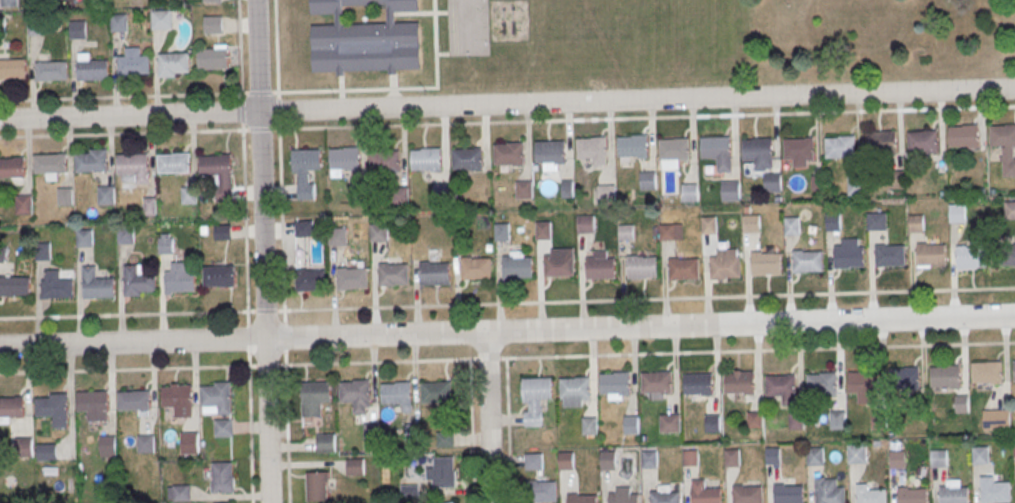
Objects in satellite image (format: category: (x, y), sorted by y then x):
building: (208, 0)
building: (7, 3)
building: (50, 3)
building: (161, 21)
building: (117, 24)
building: (212, 24)
building: (1, 28)
building: (35, 28)
building: (76, 29)
park: (864, 37)
building: (365, 39)
building: (212, 57)
building: (131, 62)
building: (171, 63)
building: (11, 68)
building: (91, 69)
building: (50, 70)
road: (184, 94)
road: (507, 104)
road: (507, 120)
building: (964, 138)
building: (1002, 138)
building: (923, 143)
building: (882, 144)
building: (632, 146)
building: (839, 147)
building: (591, 148)
building: (674, 148)
building: (798, 150)
building: (550, 151)
building: (717, 151)
building: (759, 152)
building: (509, 153)
building: (467, 158)
building: (345, 160)
building: (426, 161)
building: (385, 162)
building: (91, 163)
building: (49, 165)
building: (174, 165)
building: (132, 166)
building: (216, 167)
building: (11, 169)
road: (259, 169)
building: (304, 170)
building: (648, 180)
building: (772, 182)
building: (567, 188)
building: (523, 189)
building: (730, 189)
building: (441, 192)
building: (689, 192)
building: (606, 193)
building: (105, 197)
building: (189, 197)
building: (64, 199)
building: (23, 207)
building: (1010, 209)
building: (956, 212)
road: (243, 219)
building: (875, 220)
building: (832, 221)
building: (584, 223)
building: (750, 223)
building: (915, 223)
building: (707, 224)
building: (790, 225)
building: (303, 228)
building: (542, 230)
building: (501, 231)
building: (625, 231)
building: (670, 231)
building: (378, 232)
building: (222, 233)
building: (124, 236)
building: (337, 236)
building: (82, 238)
building: (166, 245)
building: (848, 254)
building: (889, 254)
building: (930, 254)
building: (1004, 254)
building: (970, 256)
building: (806, 260)
building: (558, 262)
building: (764, 263)
building: (724, 264)
building: (599, 265)
building: (517, 266)
building: (640, 266)
building: (475, 267)
building: (682, 268)
building: (433, 273)
building: (392, 274)
building: (351, 277)
building: (219, 278)
building: (312, 279)
building: (179, 280)
building: (137, 283)
building: (96, 287)
building: (14, 288)
building: (55, 288)
road: (141, 313)
road: (507, 332)
road: (284, 336)
road: (142, 368)
building: (1013, 368)
building: (986, 371)
building: (945, 375)
building: (902, 376)
building: (739, 381)
building: (656, 382)
building: (820, 382)
building: (614, 384)
building: (696, 384)
building: (864, 385)
building: (780, 389)
building: (574, 390)
building: (437, 395)
building: (398, 396)
building: (357, 397)
building: (535, 397)
building: (179, 399)
building: (218, 399)
building: (315, 400)
building: (135, 402)
building: (962, 403)
building: (96, 407)
building: (12, 409)
building: (56, 411)
road: (487, 417)
building: (754, 419)
building: (795, 419)
building: (837, 419)
building: (879, 419)
road: (266, 421)
building: (669, 422)
building: (712, 422)
building: (997, 423)
building: (631, 424)
building: (588, 425)
building: (225, 430)
road: (472, 430)
road: (507, 430)
road: (287, 433)
building: (371, 433)
building: (412, 433)
road: (250, 434)
building: (445, 440)
building: (326, 444)
building: (191, 445)
building: (147, 446)
building: (1013, 447)
building: (109, 448)
building: (26, 449)
building: (48, 453)
building: (856, 453)
building: (979, 454)
building: (772, 455)
building: (814, 456)
building: (689, 457)
building: (731, 457)
building: (938, 457)
building: (648, 458)
building: (897, 459)
building: (565, 460)
building: (607, 460)
building: (355, 468)
building: (442, 475)
building: (225, 480)
building: (318, 488)
building: (828, 490)
building: (994, 490)
building: (545, 491)
building: (704, 492)
building: (747, 493)
building: (788, 493)
building: (870, 494)
building: (954, 494)
building: (183, 495)
building: (912, 495)
building: (622, 496)
building: (663, 496)
building: (581, 498)
building: (453, 502)

